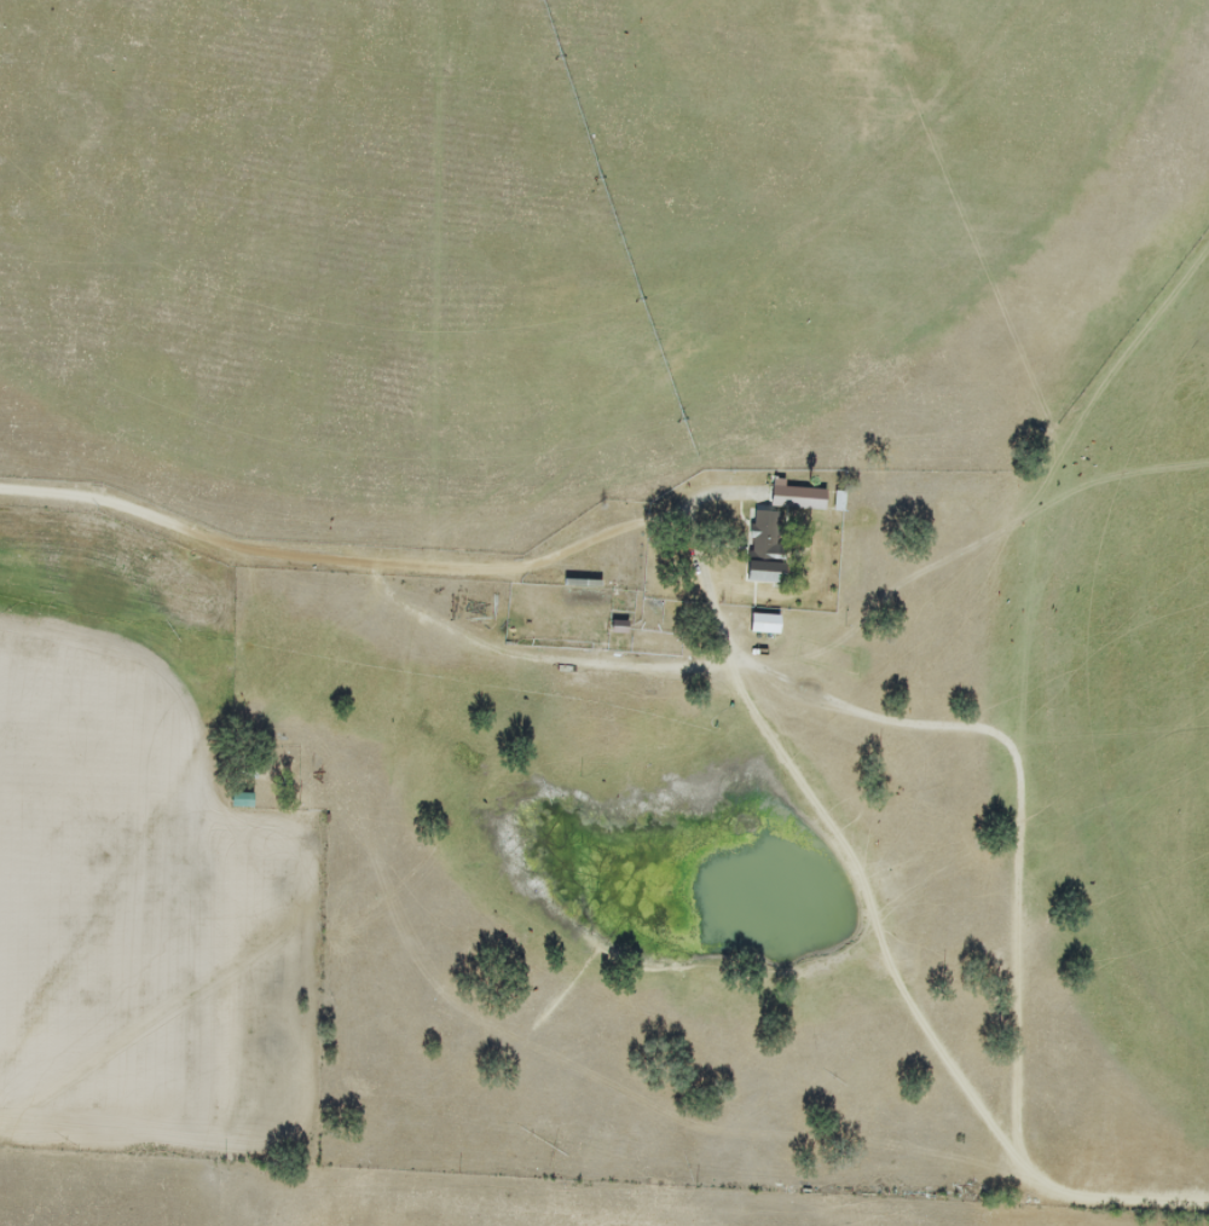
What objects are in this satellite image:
building: (767, 539)
road: (383, 576)
building: (653, 603)
building: (764, 623)
building: (652, 643)
building: (713, 741)
road: (1022, 916)

